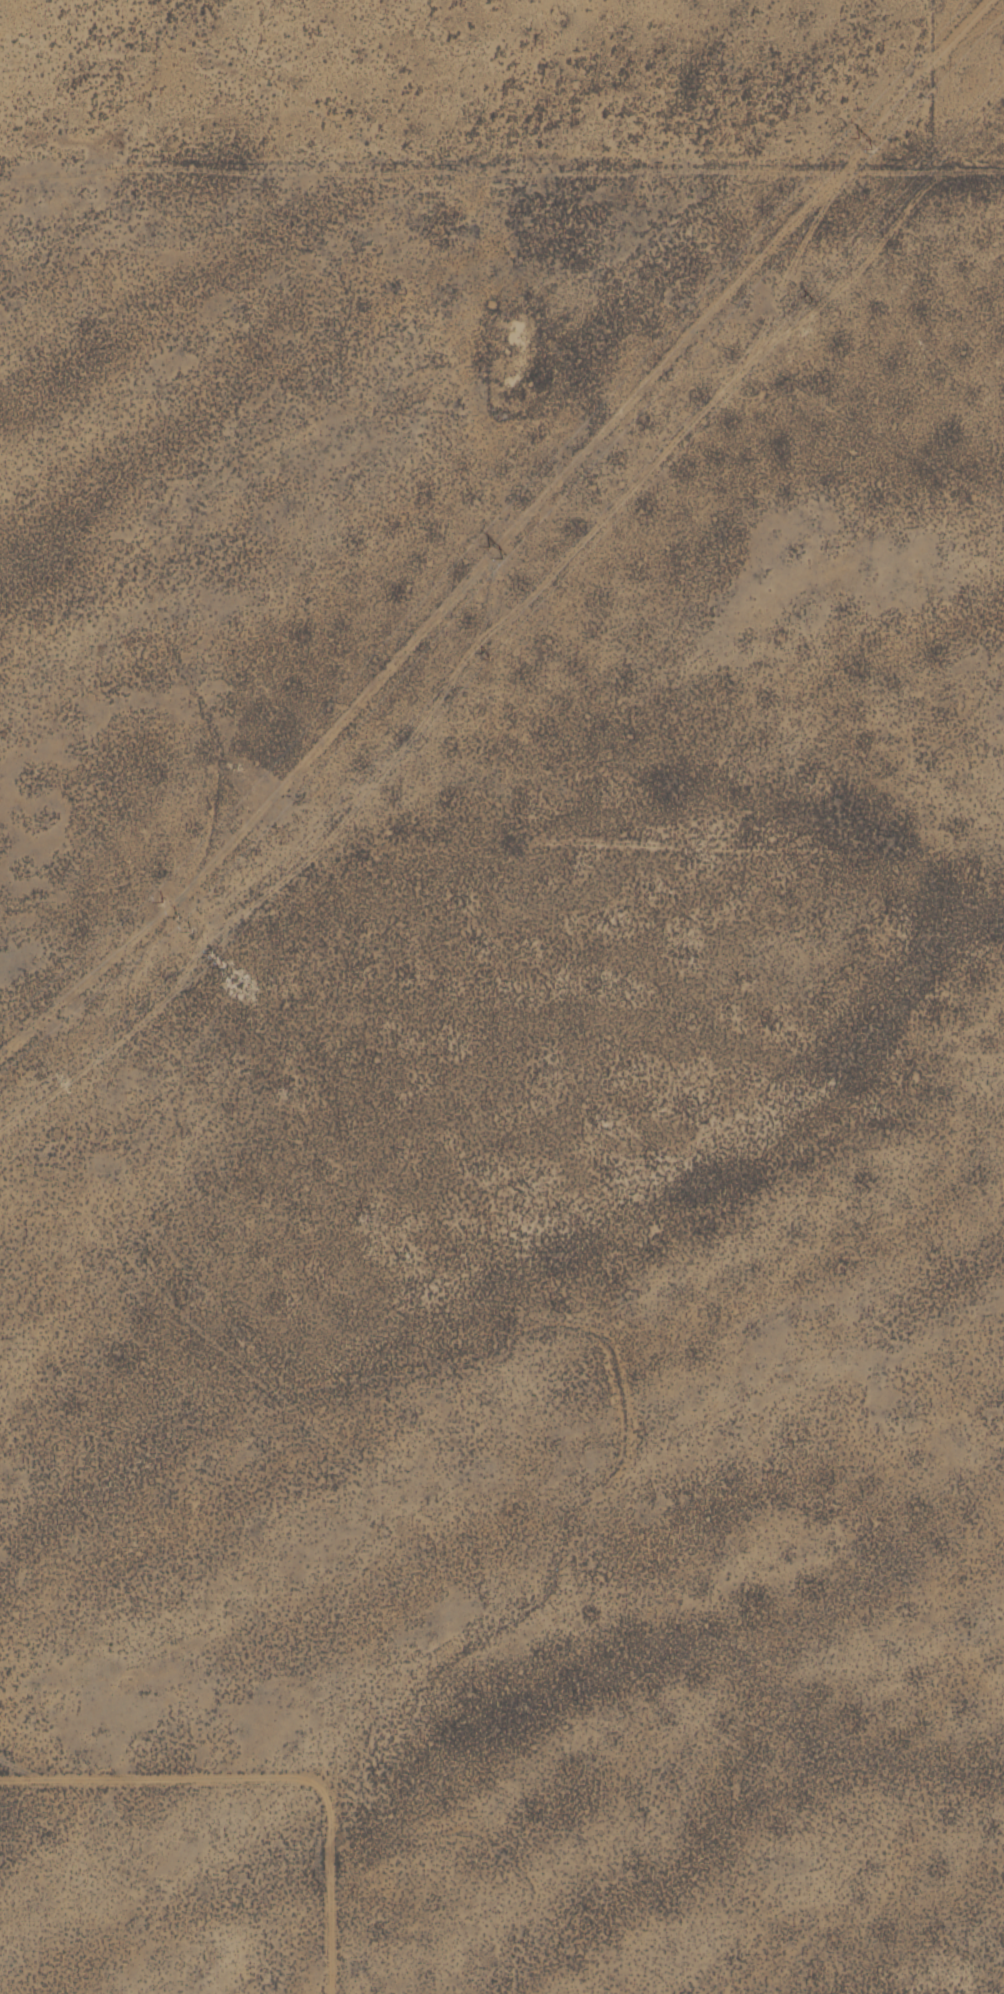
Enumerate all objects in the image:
power tower: (861, 144)
road: (756, 179)
road: (575, 257)
power tower: (798, 303)
power tower: (491, 552)
power tower: (475, 660)
power tower: (172, 916)
power tower: (212, 958)

